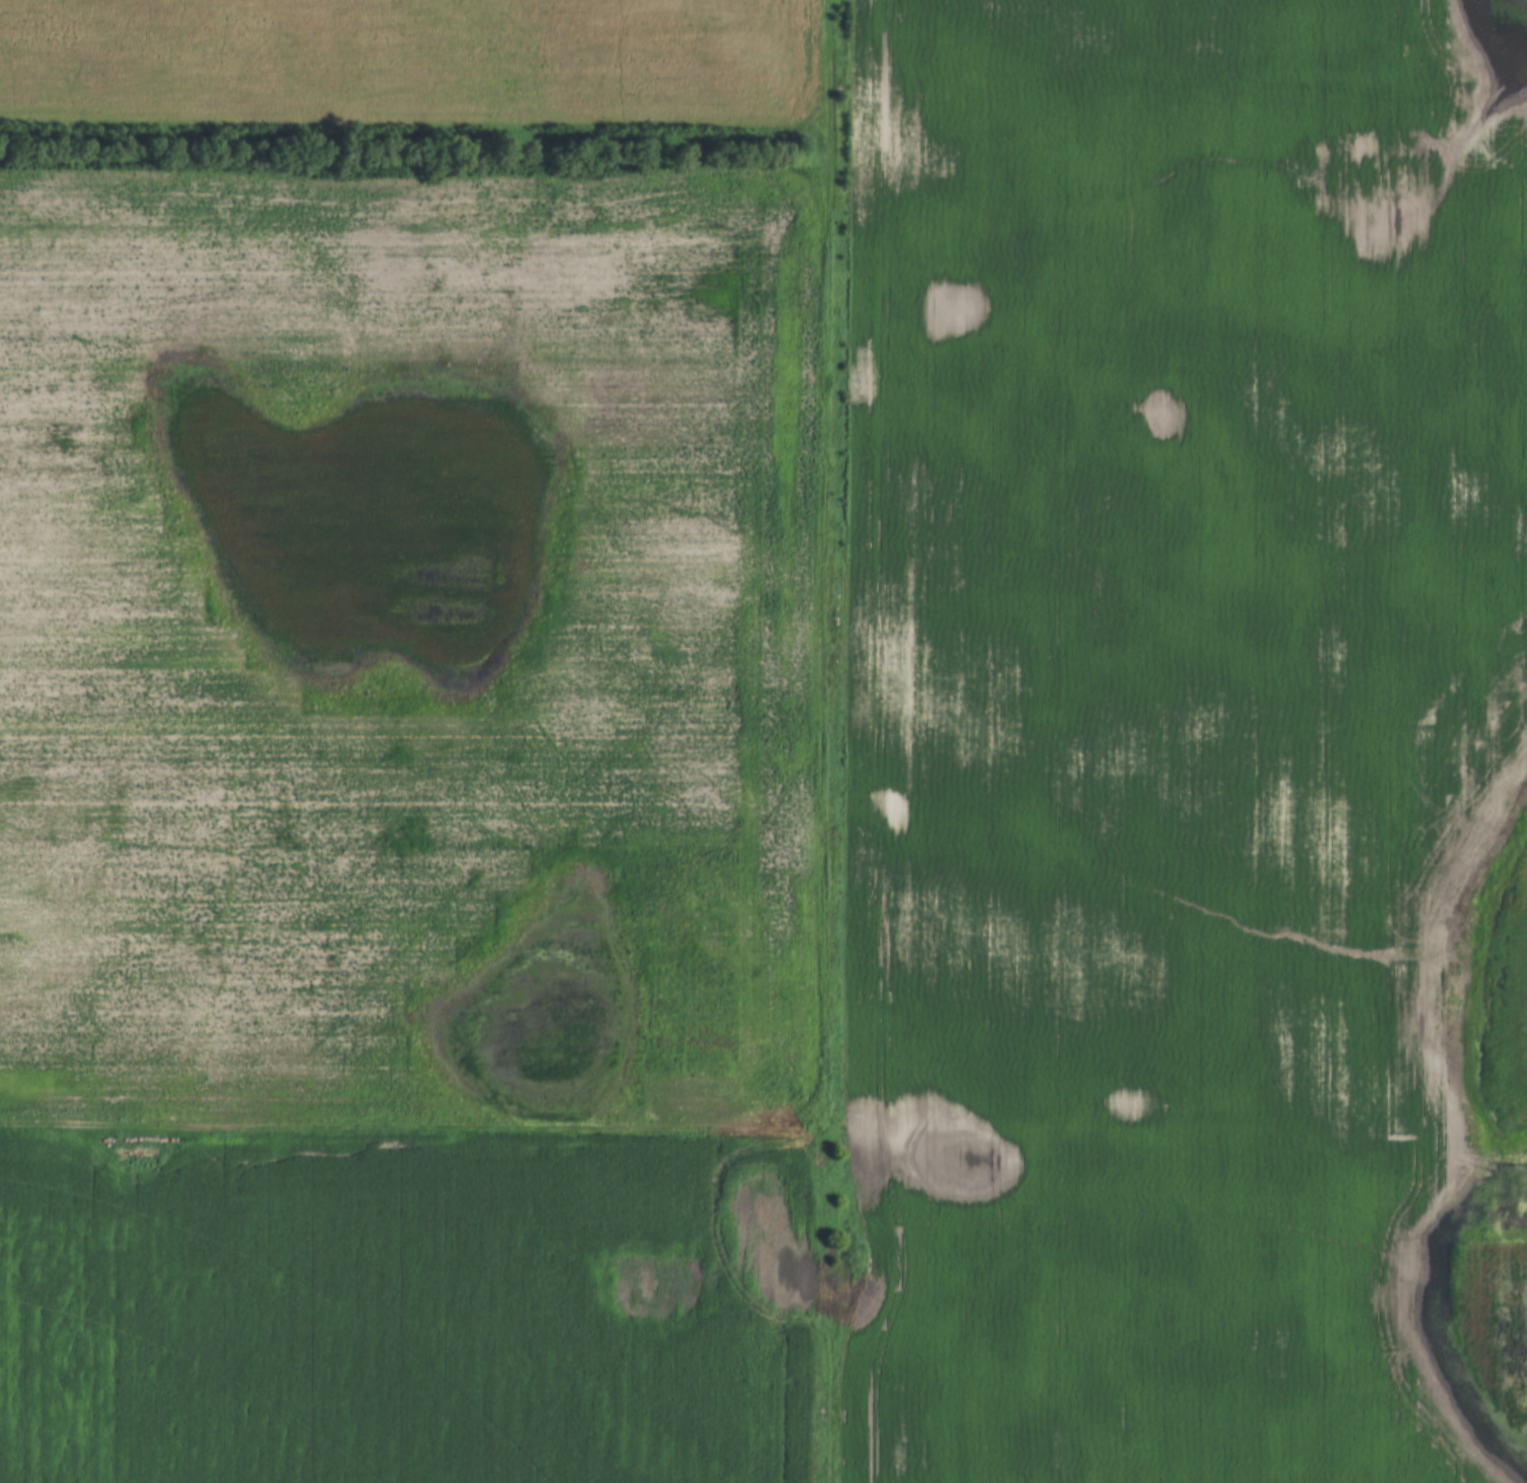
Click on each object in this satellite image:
crop: (1177, 739)
road: (821, 741)
road: (389, 1126)

